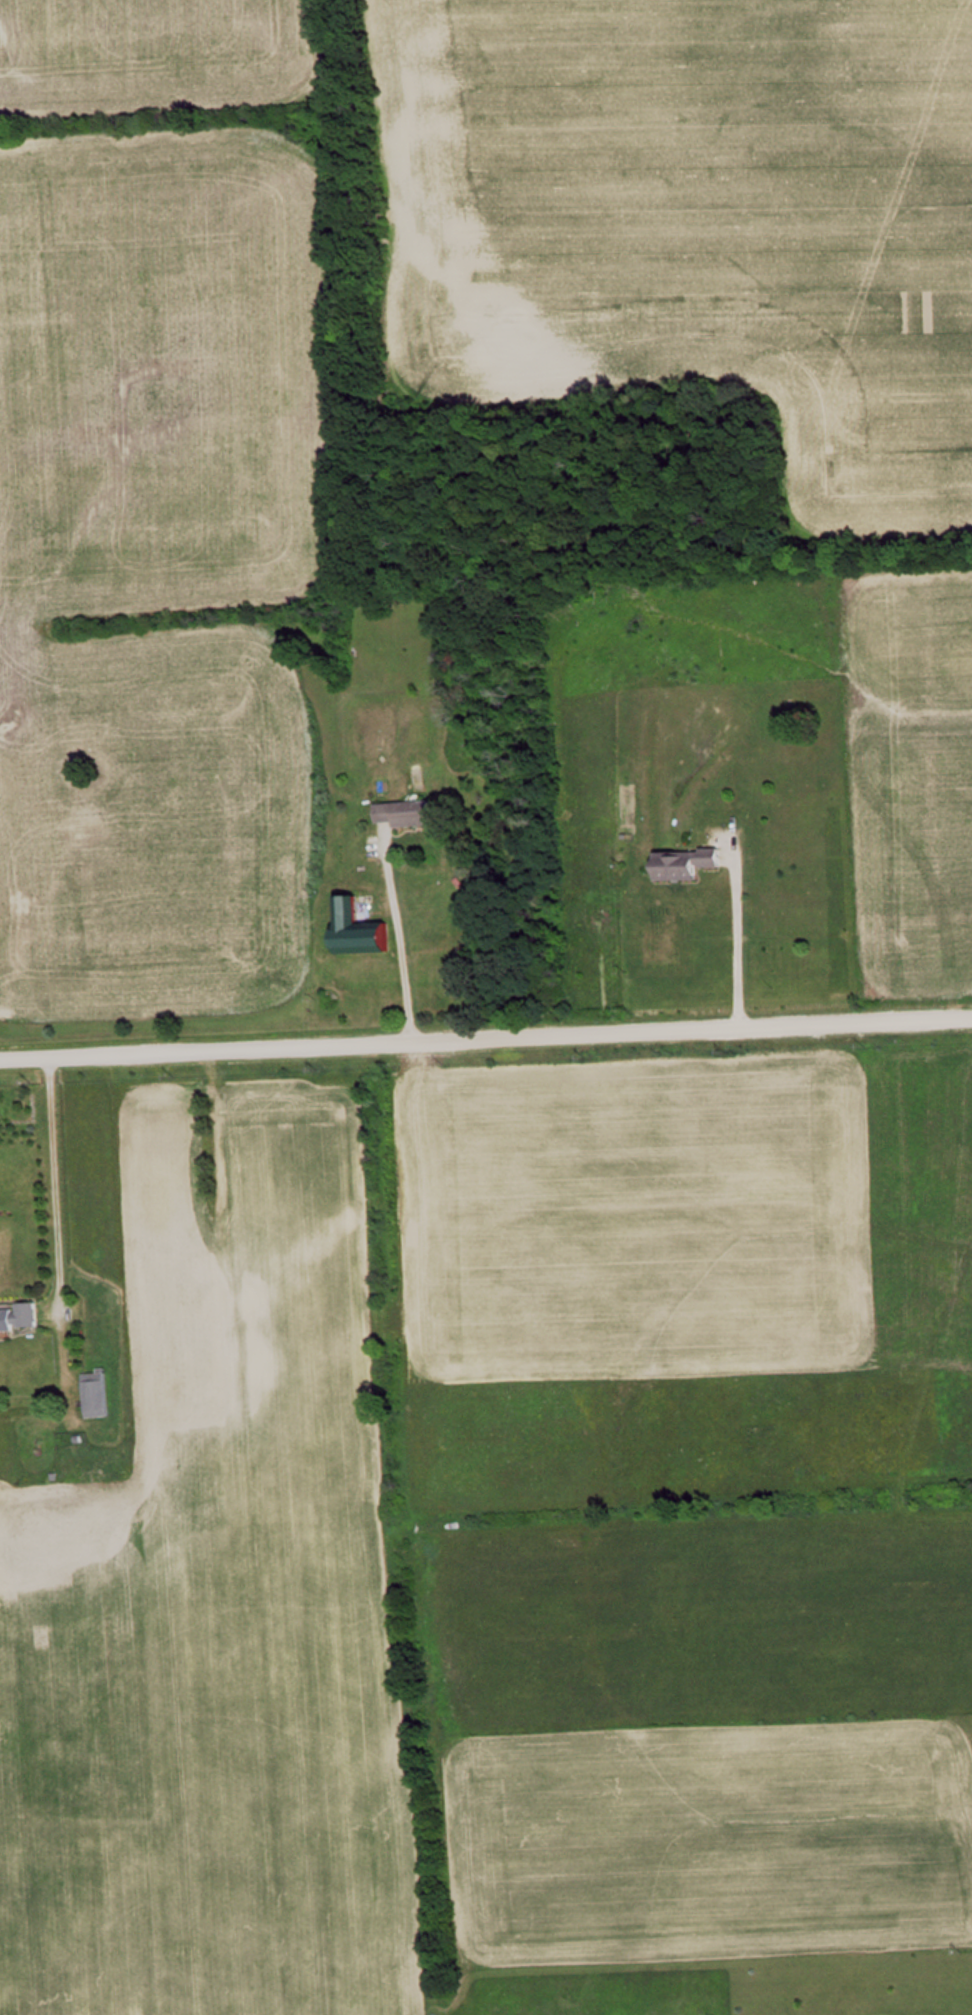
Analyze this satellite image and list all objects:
building: (410, 812)
building: (691, 863)
building: (368, 925)
road: (392, 943)
road: (486, 1037)
building: (21, 1317)
building: (98, 1393)

